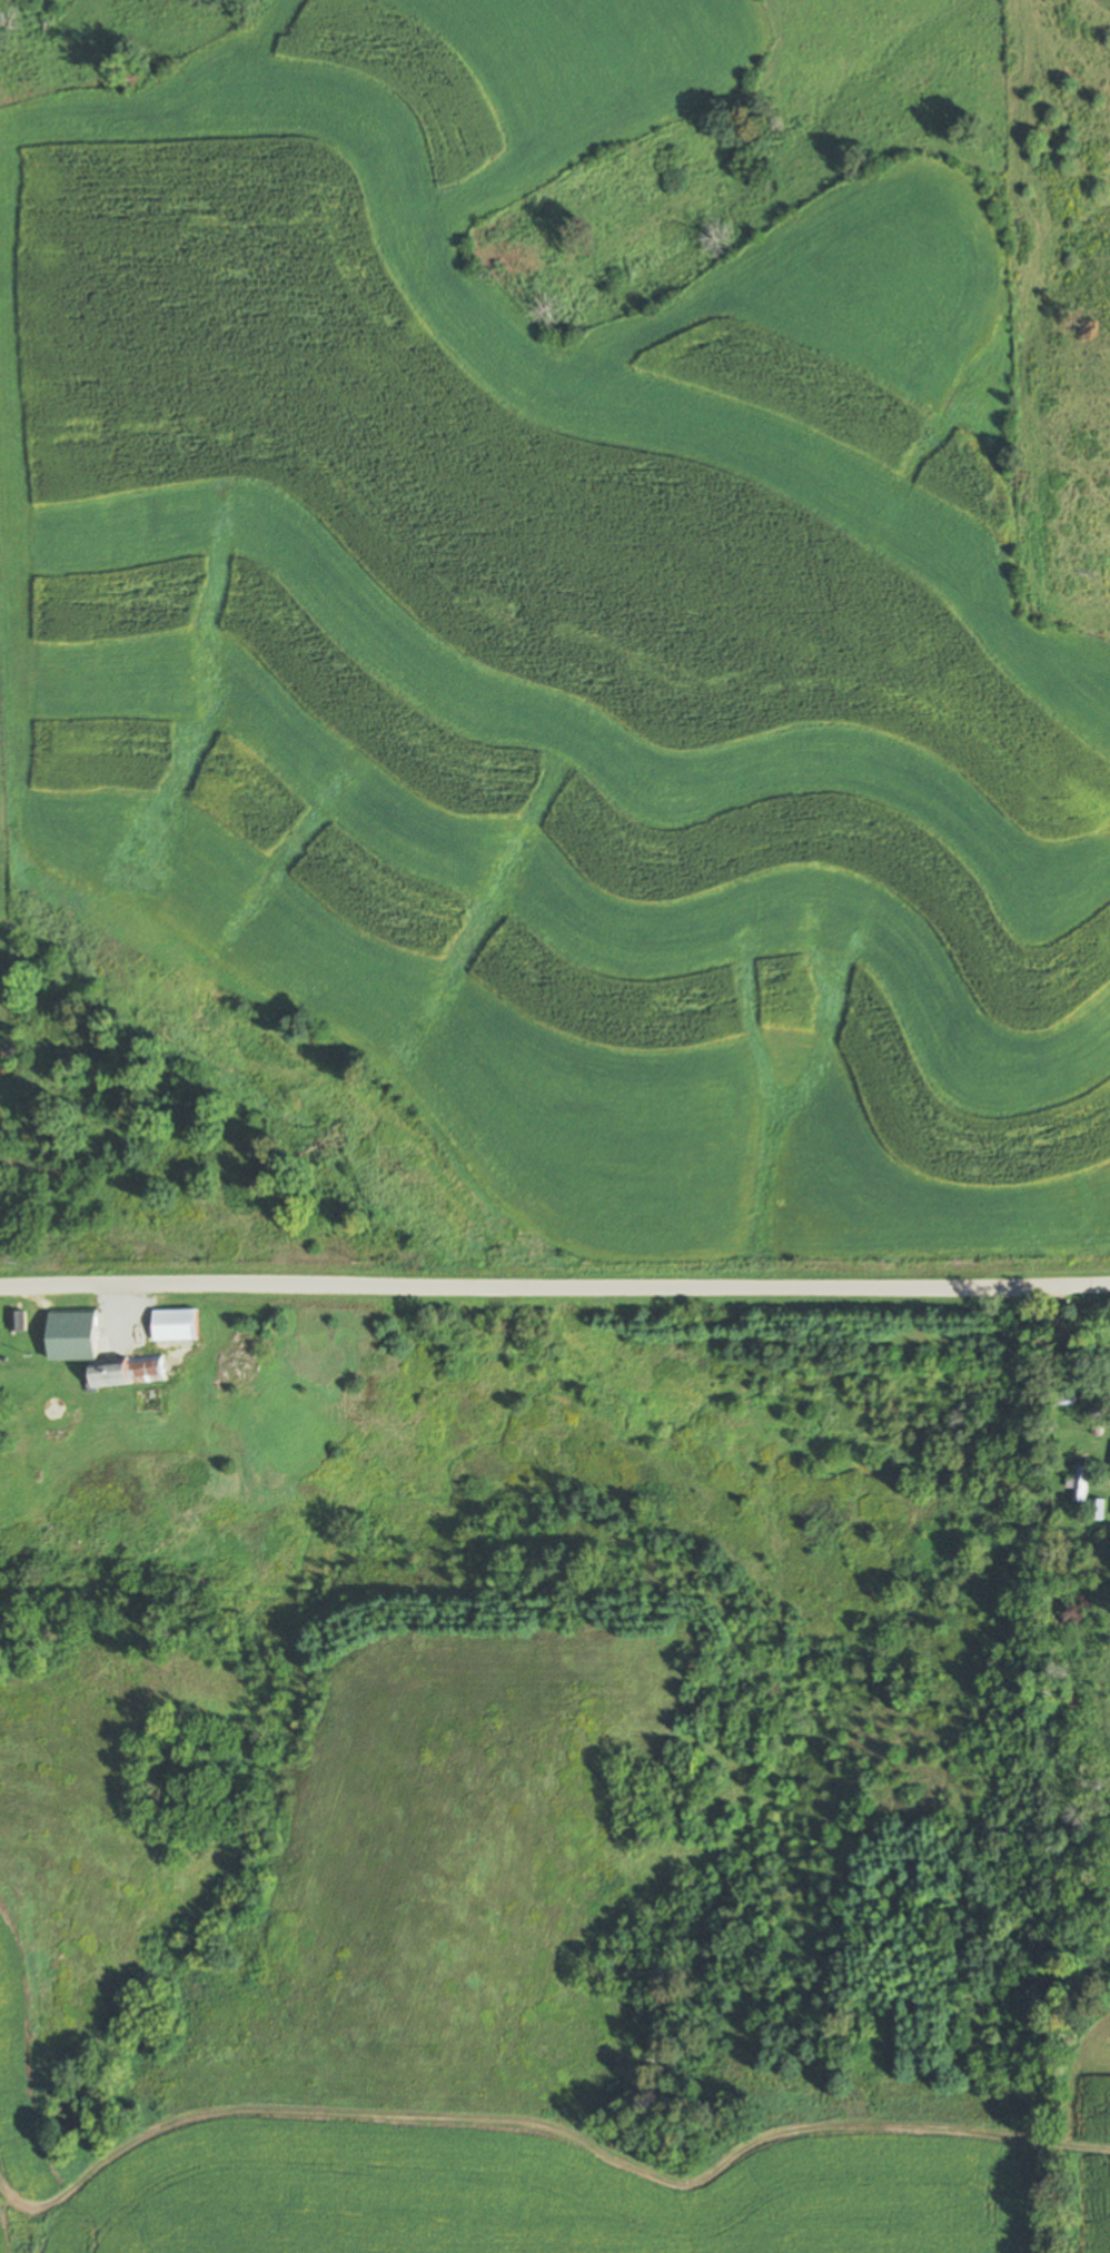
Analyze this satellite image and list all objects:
road: (554, 1292)
building: (175, 1324)
road: (1074, 1341)
building: (93, 1350)
building: (50, 1432)
building: (1081, 1484)
building: (1098, 1506)

